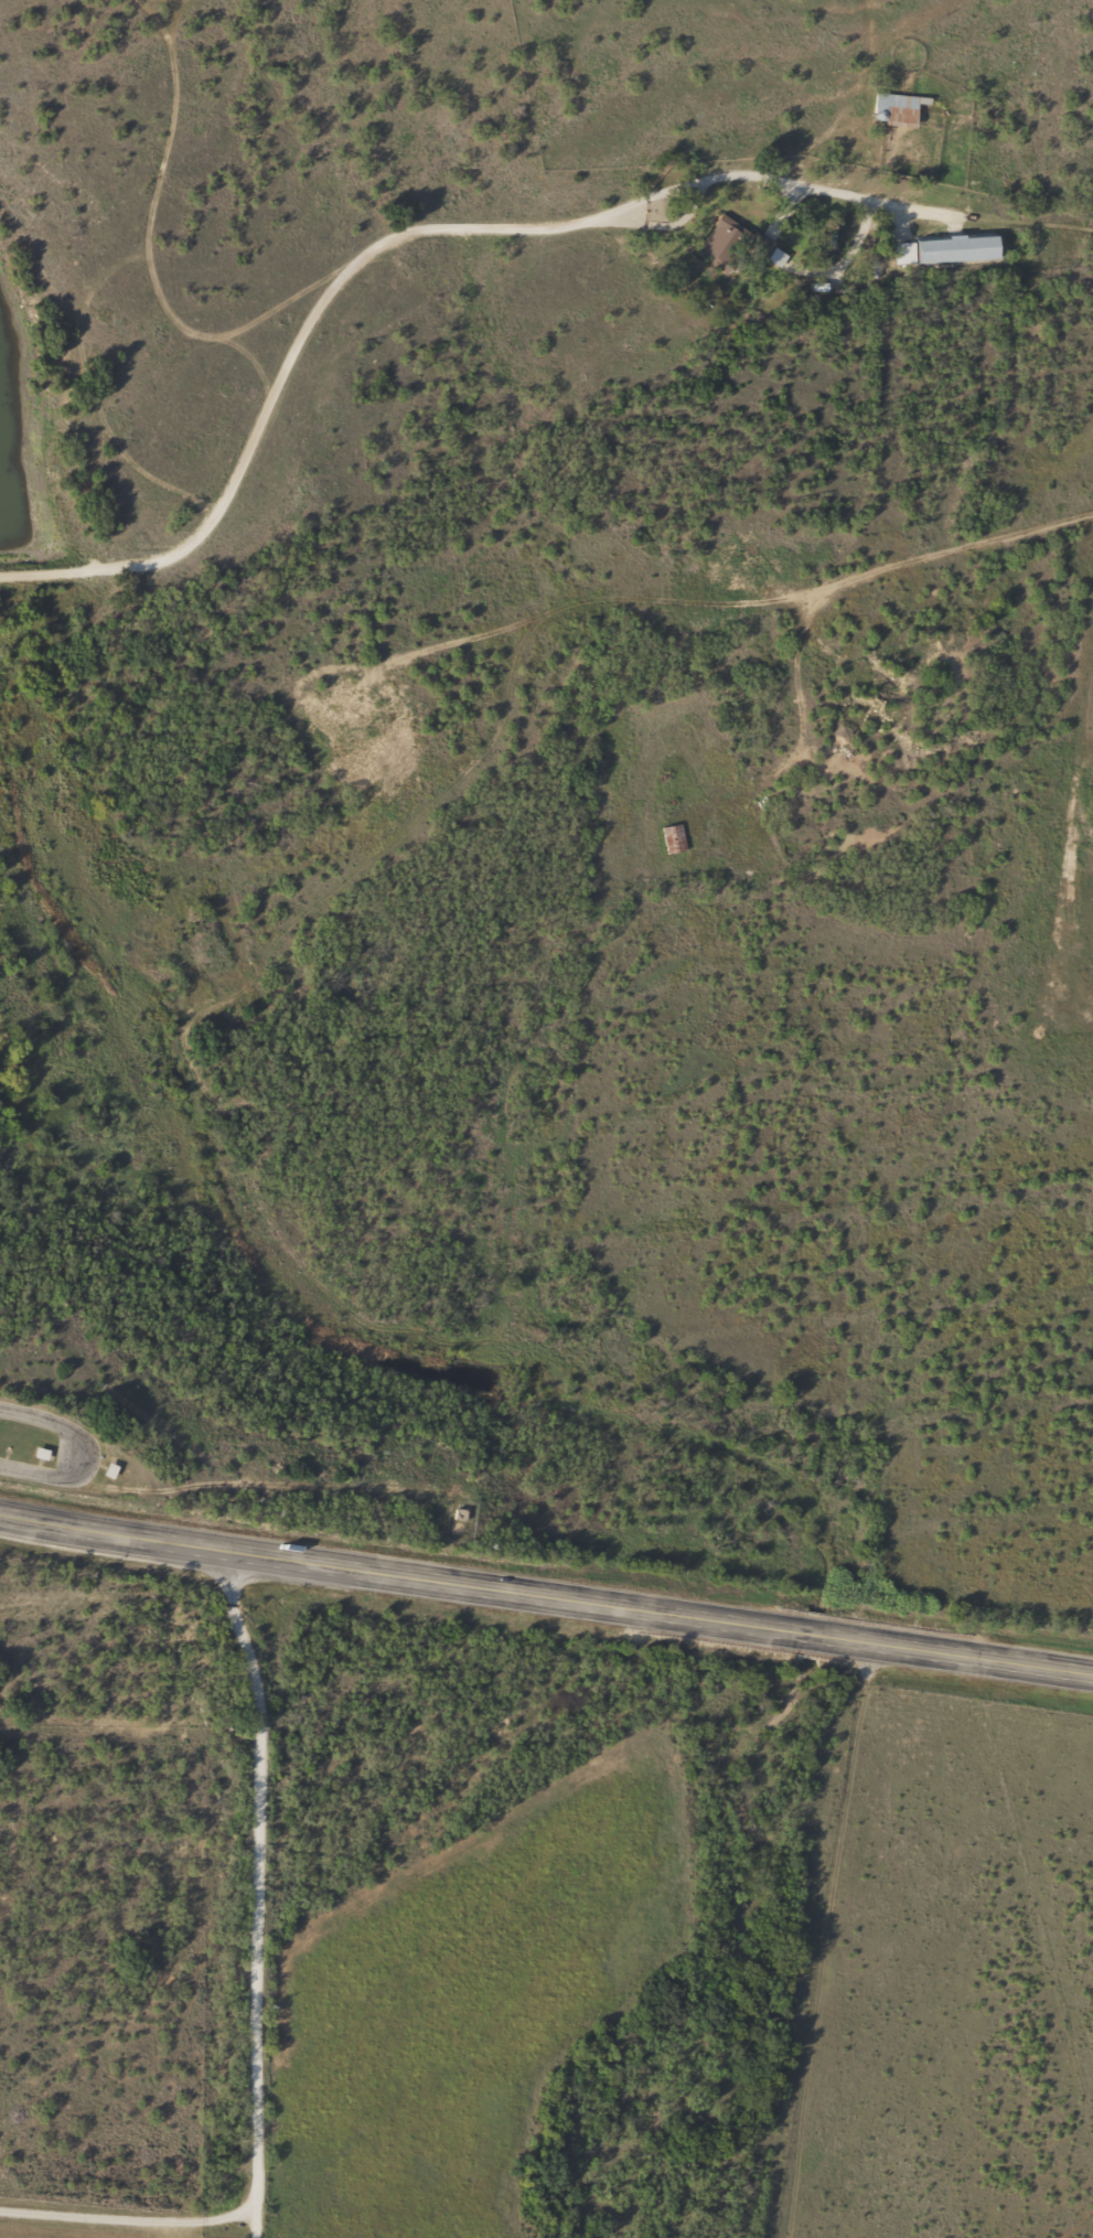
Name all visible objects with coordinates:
building: (892, 109)
road: (463, 227)
building: (740, 244)
building: (953, 249)
road: (77, 1450)
road: (546, 1605)
road: (258, 2007)

